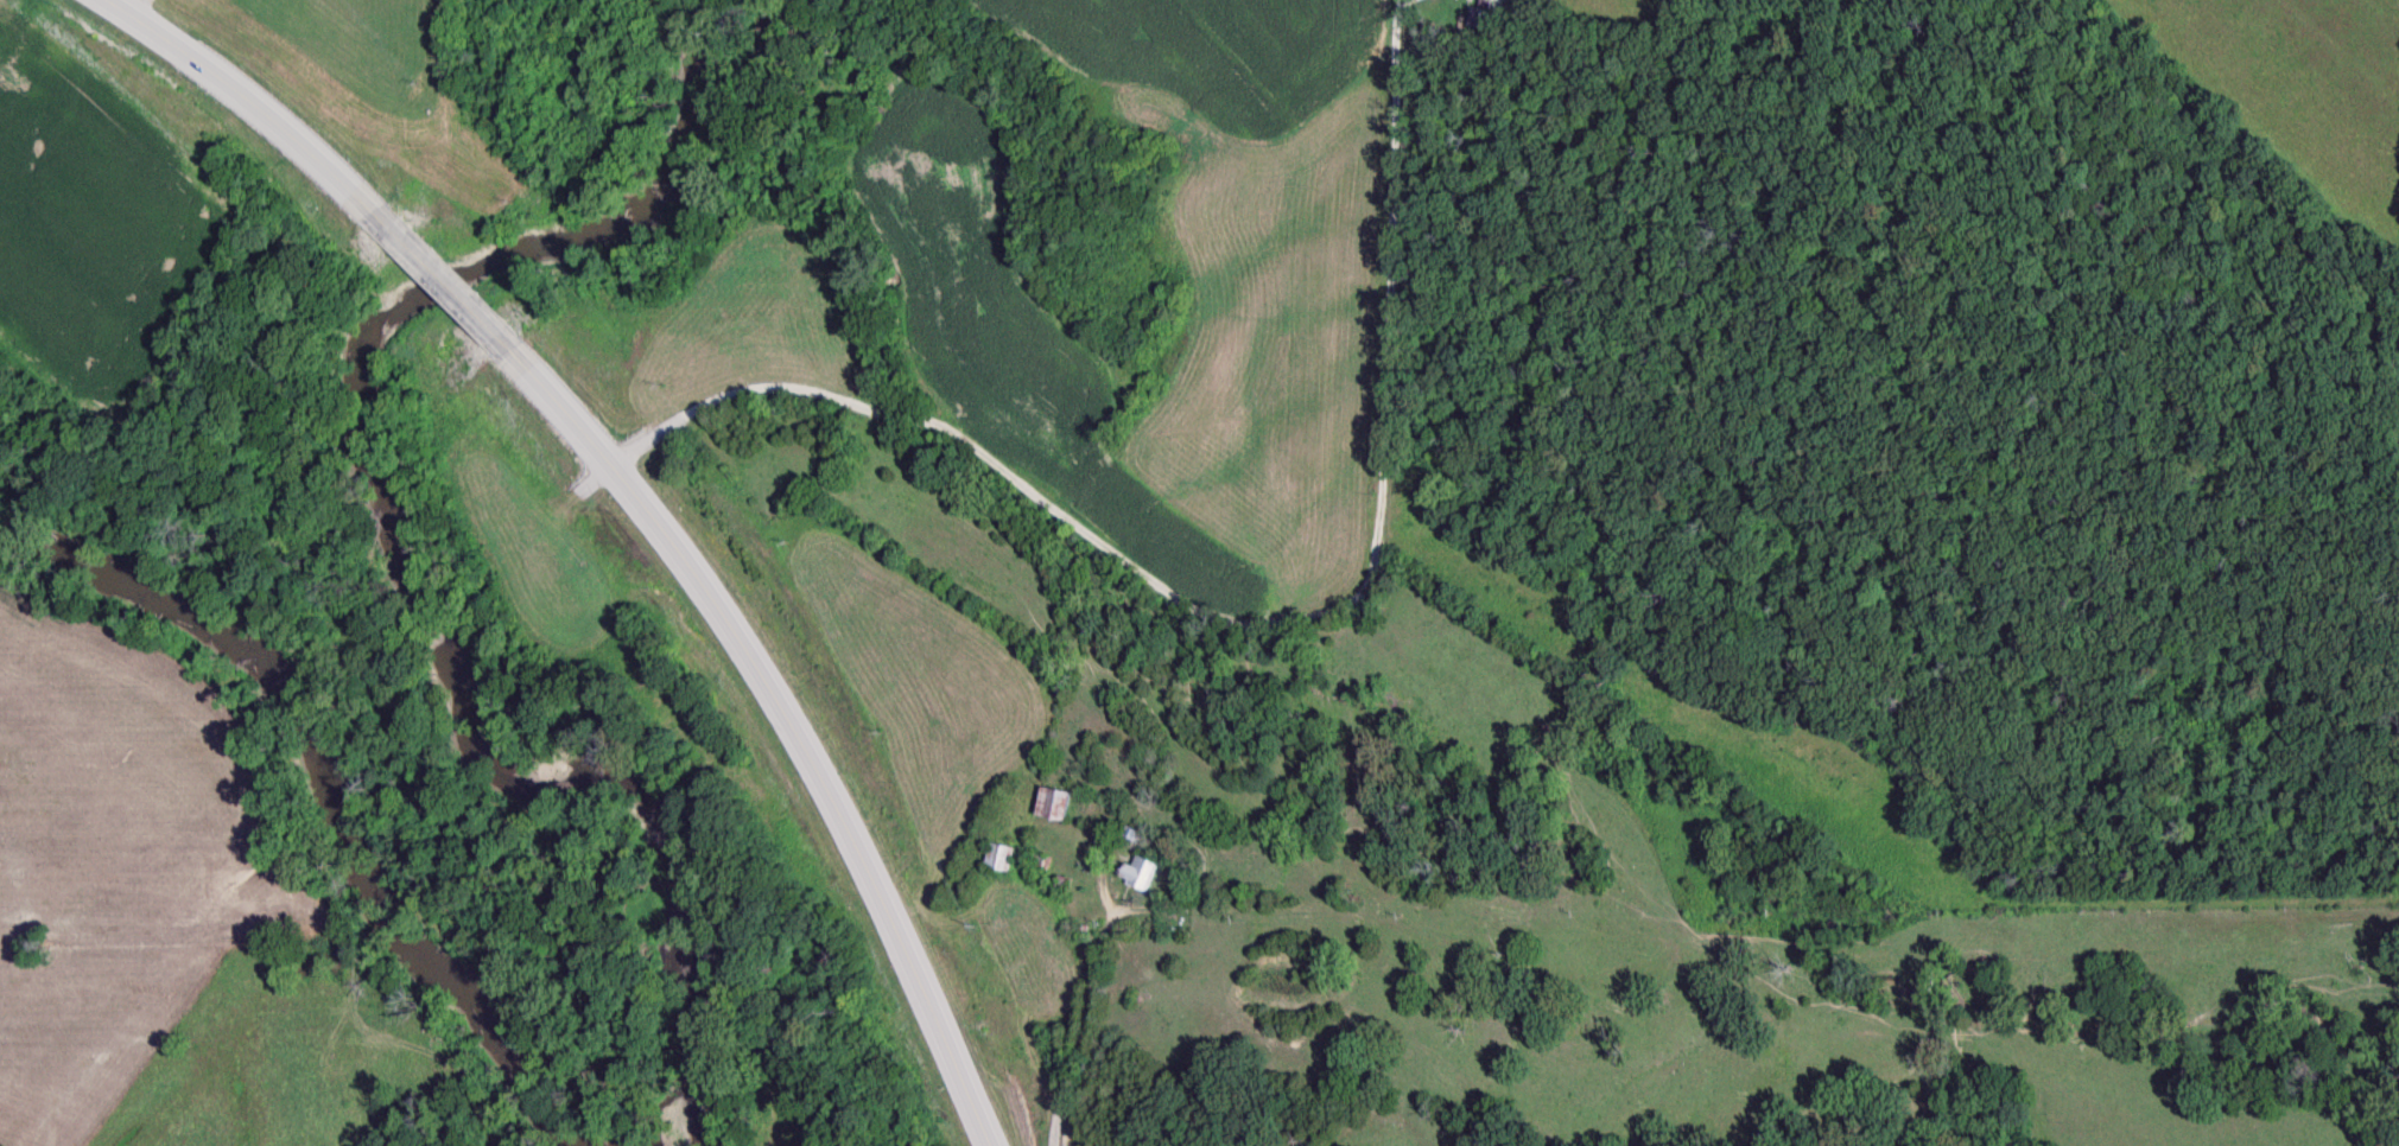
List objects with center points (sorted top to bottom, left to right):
road: (629, 499)
river: (395, 559)
river: (338, 794)
building: (1052, 806)
building: (997, 859)
building: (1137, 874)

